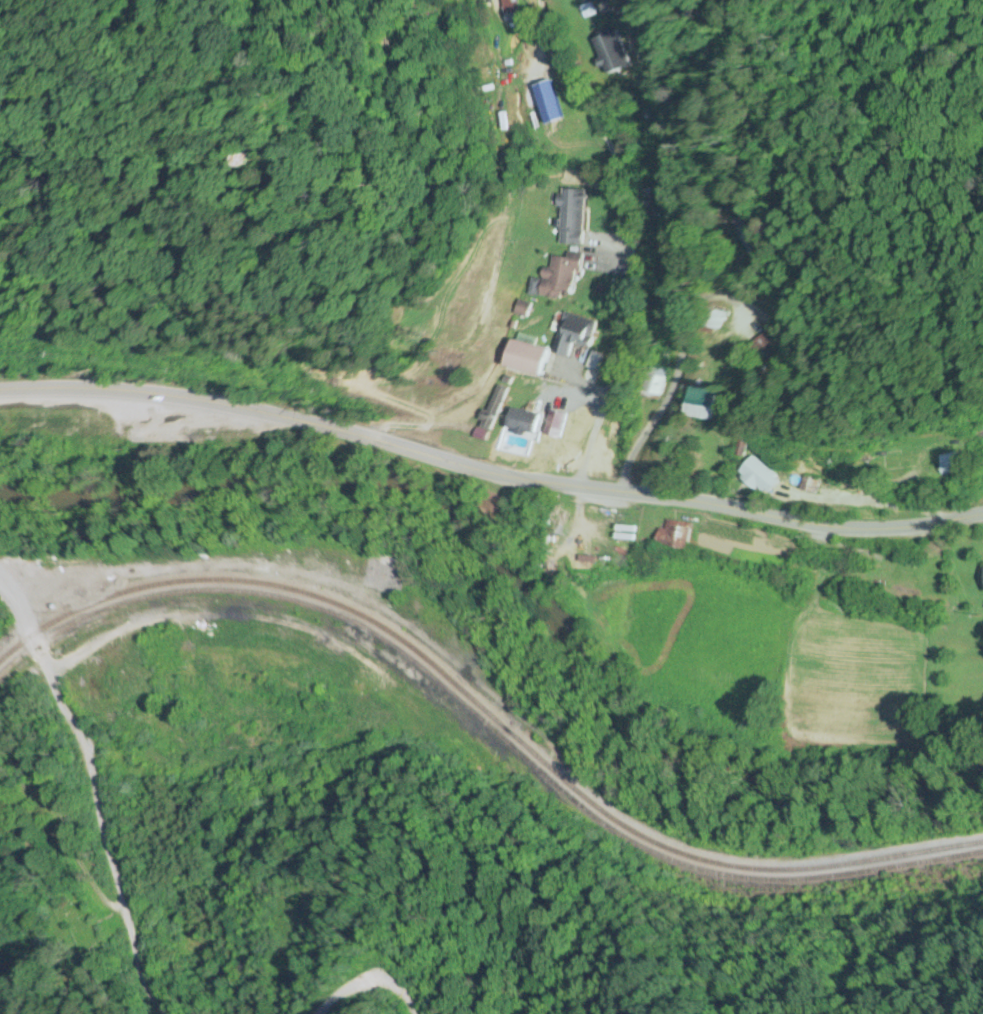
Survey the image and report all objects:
building: (507, 6)
building: (614, 53)
building: (243, 158)
building: (571, 217)
road: (628, 237)
building: (748, 240)
building: (557, 276)
building: (719, 320)
building: (575, 333)
building: (527, 359)
road: (681, 371)
building: (659, 384)
building: (705, 404)
building: (495, 413)
building: (527, 422)
building: (558, 455)
road: (489, 469)
building: (762, 477)
building: (677, 536)
railway: (487, 713)
road: (77, 797)
park: (39, 899)

